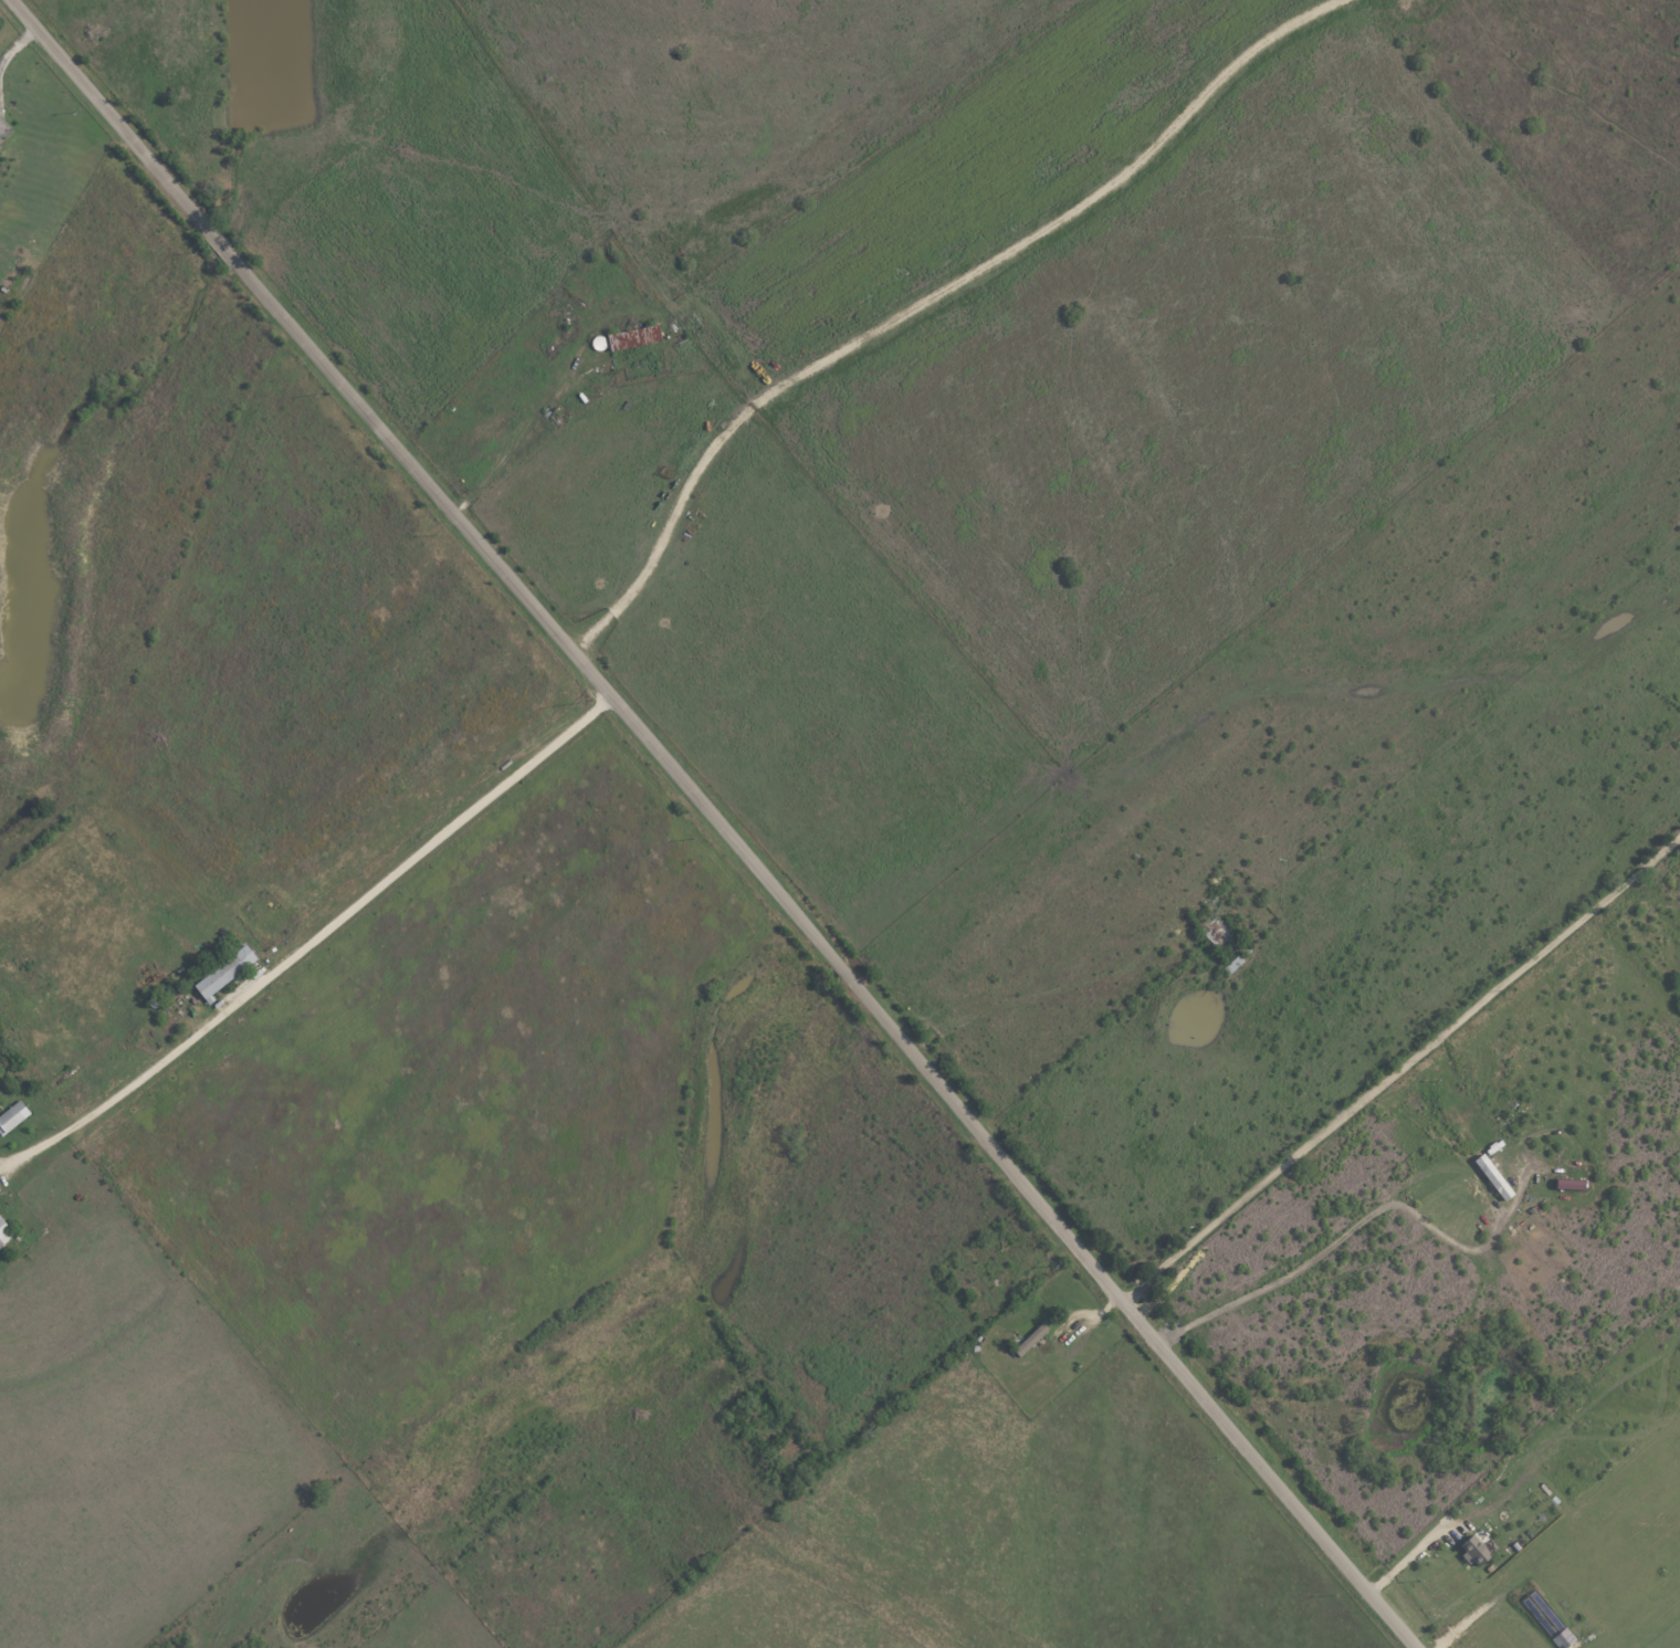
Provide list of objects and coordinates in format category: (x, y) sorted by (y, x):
road: (17, 44)
building: (636, 338)
road: (716, 822)
road: (308, 942)
building: (224, 974)
road: (1400, 1067)
road: (1421, 1077)
building: (13, 1116)
building: (1492, 1177)
road: (1495, 1231)
building: (4, 1232)
building: (1031, 1340)
building: (1474, 1550)
road: (1406, 1560)

